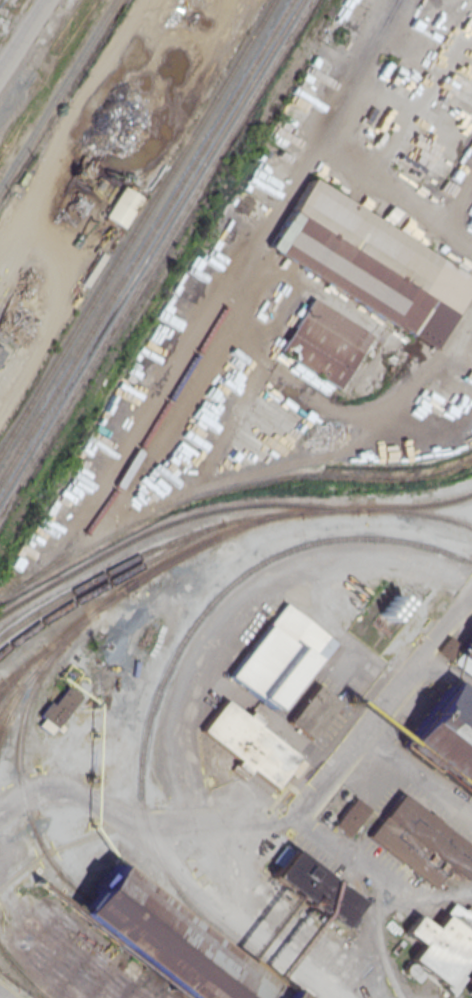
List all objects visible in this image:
road: (24, 37)
railway: (56, 92)
building: (299, 102)
building: (123, 206)
railway: (134, 225)
railway: (142, 239)
railway: (148, 248)
railway: (155, 258)
building: (381, 271)
building: (9, 306)
building: (324, 342)
building: (2, 354)
railway: (88, 396)
railway: (129, 462)
railway: (414, 503)
railway: (420, 511)
railway: (167, 522)
railway: (168, 549)
railway: (108, 570)
railway: (139, 575)
building: (277, 655)
railway: (44, 661)
railway: (21, 671)
railway: (1, 682)
railway: (160, 685)
railway: (5, 689)
railway: (15, 700)
building: (311, 713)
railway: (4, 724)
building: (447, 736)
building: (246, 744)
railway: (17, 773)
building: (350, 817)
building: (420, 842)
building: (311, 891)
building: (160, 943)
building: (443, 945)
railway: (22, 974)

